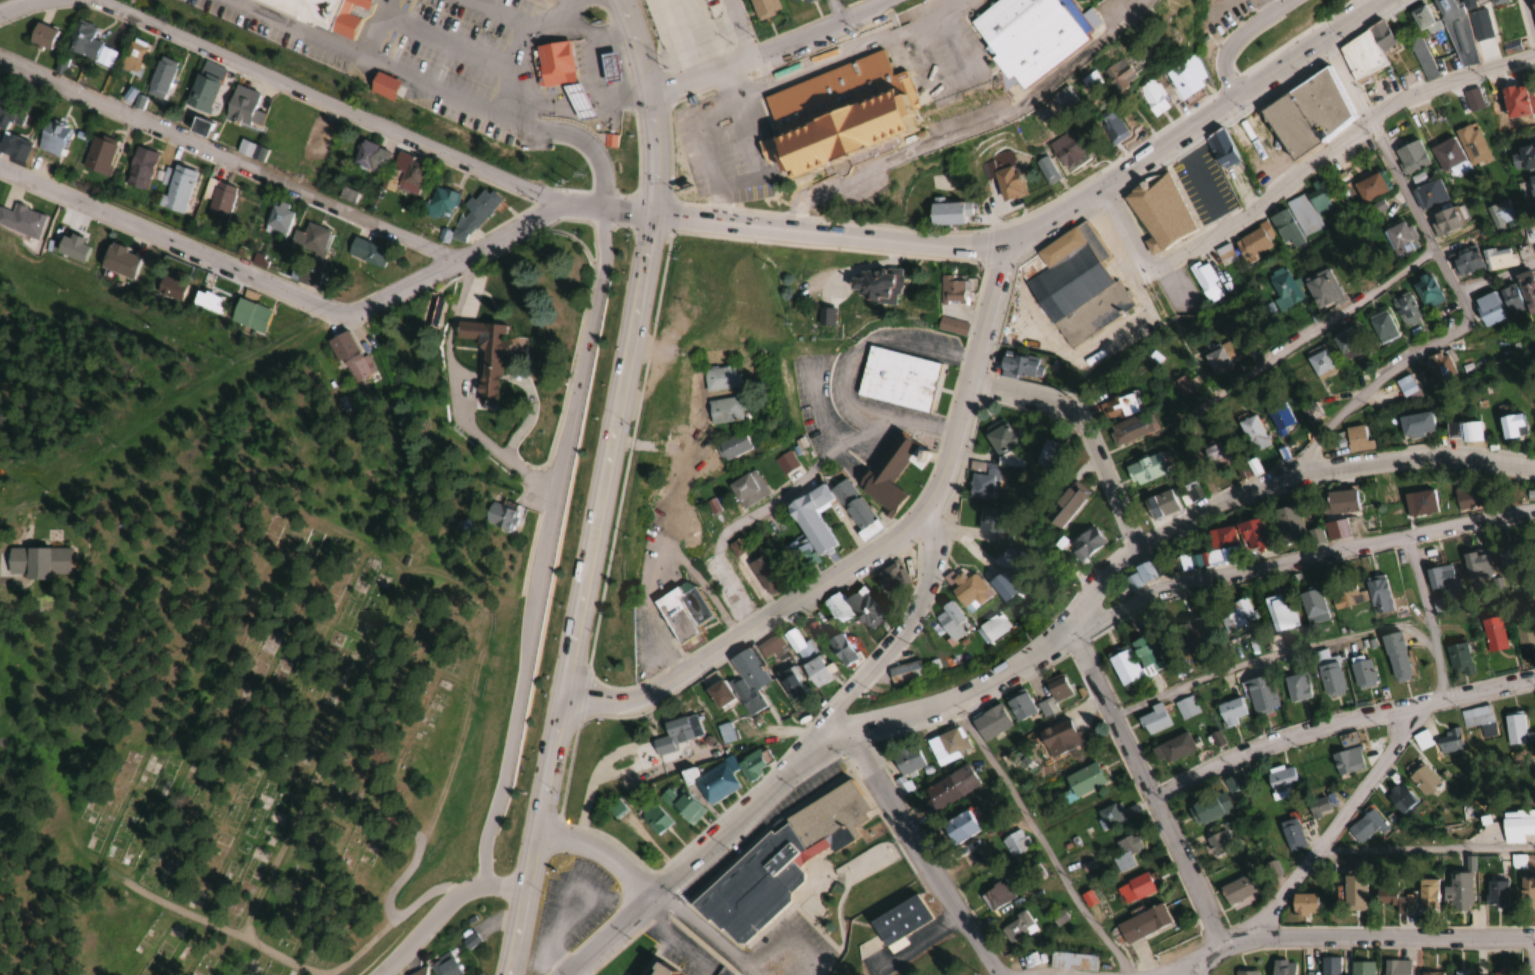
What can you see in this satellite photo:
building: (1489, 1)
building: (797, 2)
building: (1468, 3)
road: (21, 5)
building: (762, 8)
road: (838, 11)
road: (1531, 11)
building: (1532, 12)
building: (322, 13)
building: (1420, 17)
road: (736, 29)
building: (1026, 34)
building: (1455, 34)
building: (39, 36)
road: (1238, 39)
building: (80, 40)
road: (771, 48)
building: (1362, 49)
building: (130, 55)
building: (1419, 55)
road: (833, 57)
building: (580, 58)
building: (607, 66)
building: (1116, 73)
building: (1184, 76)
building: (158, 78)
building: (1086, 81)
building: (381, 85)
building: (200, 90)
road: (321, 97)
building: (1150, 97)
building: (1513, 101)
road: (658, 105)
building: (10, 111)
building: (1305, 111)
building: (832, 116)
road: (1199, 124)
building: (196, 126)
road: (961, 127)
building: (1109, 129)
building: (48, 137)
building: (312, 139)
building: (1472, 145)
road: (1331, 149)
building: (249, 150)
building: (1063, 150)
building: (1358, 150)
building: (96, 155)
building: (1410, 156)
building: (1448, 156)
building: (1522, 156)
building: (366, 157)
road: (226, 160)
building: (1228, 166)
building: (1042, 167)
road: (1392, 167)
building: (139, 168)
building: (407, 177)
building: (1004, 179)
building: (1370, 186)
building: (1531, 186)
building: (174, 189)
building: (1425, 190)
building: (218, 199)
building: (439, 200)
building: (1310, 207)
building: (475, 211)
building: (1155, 211)
building: (942, 213)
building: (1499, 213)
traffic signals: (662, 217)
building: (277, 219)
building: (1445, 219)
building: (21, 221)
building: (1284, 227)
road: (1120, 231)
road: (830, 235)
building: (1397, 236)
road: (490, 237)
road: (165, 238)
building: (310, 239)
building: (1250, 243)
building: (365, 252)
building: (1224, 254)
building: (1497, 257)
building: (118, 260)
building: (1464, 262)
building: (302, 276)
building: (874, 285)
building: (1072, 285)
building: (168, 287)
building: (1321, 288)
building: (951, 289)
building: (1282, 289)
building: (1426, 291)
building: (1524, 291)
building: (1509, 299)
building: (208, 301)
building: (1487, 308)
building: (1405, 309)
building: (248, 315)
building: (824, 316)
mineshaft: (1286, 325)
building: (1382, 325)
building: (950, 326)
building: (1344, 345)
road: (1416, 350)
building: (347, 357)
road: (1271, 358)
building: (1217, 361)
building: (1319, 362)
building: (471, 363)
building: (1015, 366)
building: (1439, 366)
building: (717, 378)
building: (895, 379)
building: (1182, 385)
building: (1405, 385)
road: (974, 394)
building: (1116, 407)
building: (720, 410)
building: (1311, 411)
building: (1279, 418)
building: (1414, 424)
building: (1509, 426)
building: (1128, 429)
building: (1461, 431)
building: (1253, 433)
road: (1087, 436)
building: (1001, 437)
building: (1355, 438)
building: (729, 446)
building: (1044, 454)
road: (616, 456)
building: (1214, 456)
building: (1144, 470)
building: (889, 471)
road: (1531, 471)
building: (984, 482)
road: (1274, 483)
building: (744, 490)
building: (1190, 492)
building: (1464, 498)
building: (1337, 502)
building: (1419, 503)
building: (1063, 504)
building: (1158, 504)
building: (850, 505)
building: (499, 516)
building: (987, 520)
building: (1287, 521)
building: (808, 524)
building: (459, 526)
building: (1334, 529)
building: (1084, 543)
road: (546, 547)
building: (1208, 550)
road: (1294, 556)
building: (1507, 559)
building: (32, 562)
building: (1473, 563)
building: (763, 574)
building: (1139, 575)
building: (891, 577)
building: (1438, 577)
building: (1001, 586)
building: (967, 590)
building: (1377, 594)
road: (710, 597)
building: (1345, 597)
building: (850, 606)
building: (1312, 606)
building: (679, 609)
road: (647, 612)
building: (1279, 612)
building: (1236, 614)
road: (1424, 616)
building: (949, 621)
building: (812, 627)
building: (992, 629)
building: (1190, 631)
building: (1492, 633)
road: (752, 634)
building: (1525, 637)
parking lot: (650, 643)
building: (839, 649)
road: (890, 650)
building: (1394, 656)
building: (805, 659)
building: (1457, 660)
building: (1133, 661)
building: (1361, 672)
building: (904, 673)
building: (1328, 673)
building: (746, 680)
building: (790, 683)
building: (1296, 687)
road: (960, 691)
building: (716, 693)
building: (1053, 693)
building: (1260, 694)
building: (1018, 705)
building: (1186, 707)
building: (1229, 711)
building: (1476, 716)
building: (1152, 720)
road: (1338, 721)
building: (989, 722)
building: (1516, 729)
building: (725, 732)
building: (674, 733)
building: (1057, 739)
building: (1421, 739)
building: (1449, 741)
building: (946, 745)
building: (1172, 748)
road: (823, 751)
building: (1347, 755)
building: (907, 762)
building: (748, 766)
building: (1421, 778)
building: (1083, 780)
building: (1280, 780)
building: (709, 782)
building: (1231, 783)
road: (1148, 787)
building: (948, 788)
building: (1398, 797)
building: (680, 805)
building: (1315, 807)
building: (1207, 808)
building: (1109, 815)
building: (653, 818)
building: (1517, 819)
building: (1363, 825)
building: (957, 827)
road: (1332, 827)
building: (1308, 829)
building: (1291, 834)
road: (544, 836)
building: (1014, 842)
building: (1216, 844)
building: (1125, 852)
road: (607, 853)
road: (922, 856)
building: (973, 858)
building: (1353, 861)
building: (776, 863)
road: (684, 872)
building: (1238, 888)
building: (1457, 891)
building: (1525, 891)
building: (1351, 892)
building: (1493, 892)
building: (996, 894)
building: (1424, 895)
building: (1390, 898)
building: (1301, 904)
road: (440, 909)
building: (899, 919)
building: (1141, 924)
building: (1016, 927)
road: (703, 934)
road: (1376, 938)
building: (469, 940)
road: (1210, 955)
road: (1533, 956)
building: (1070, 962)
building: (443, 966)
building: (1325, 966)
building: (1279, 967)
road: (1200, 968)
building: (1356, 968)
building: (1391, 968)
road: (1183, 969)
building: (652, 971)
building: (1497, 972)
building: (1242, 973)
building: (1425, 973)
building: (1455, 973)
building: (414, 974)

